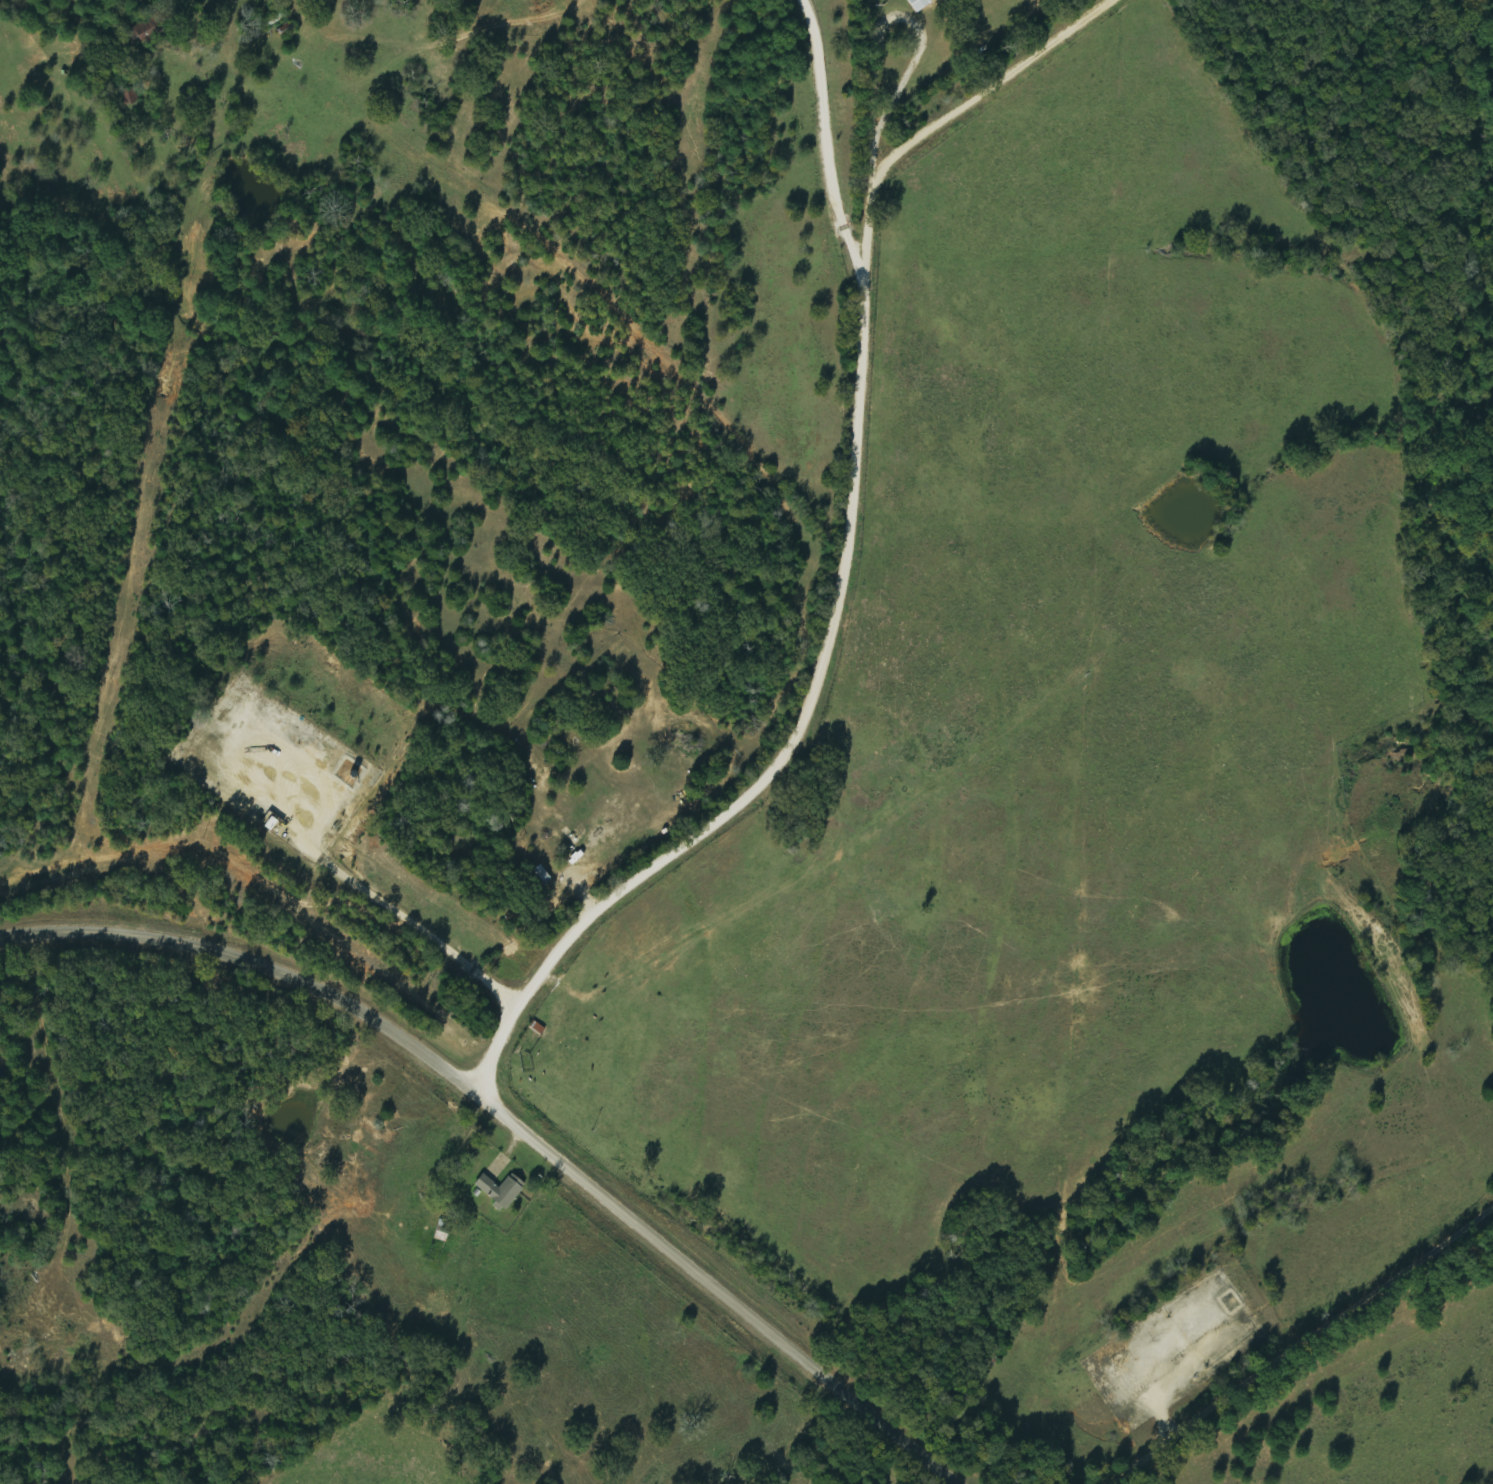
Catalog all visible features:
park: (877, 2)
building: (918, 4)
road: (839, 626)
road: (51, 1100)
road: (514, 1125)
building: (499, 1190)
road: (1327, 1352)

